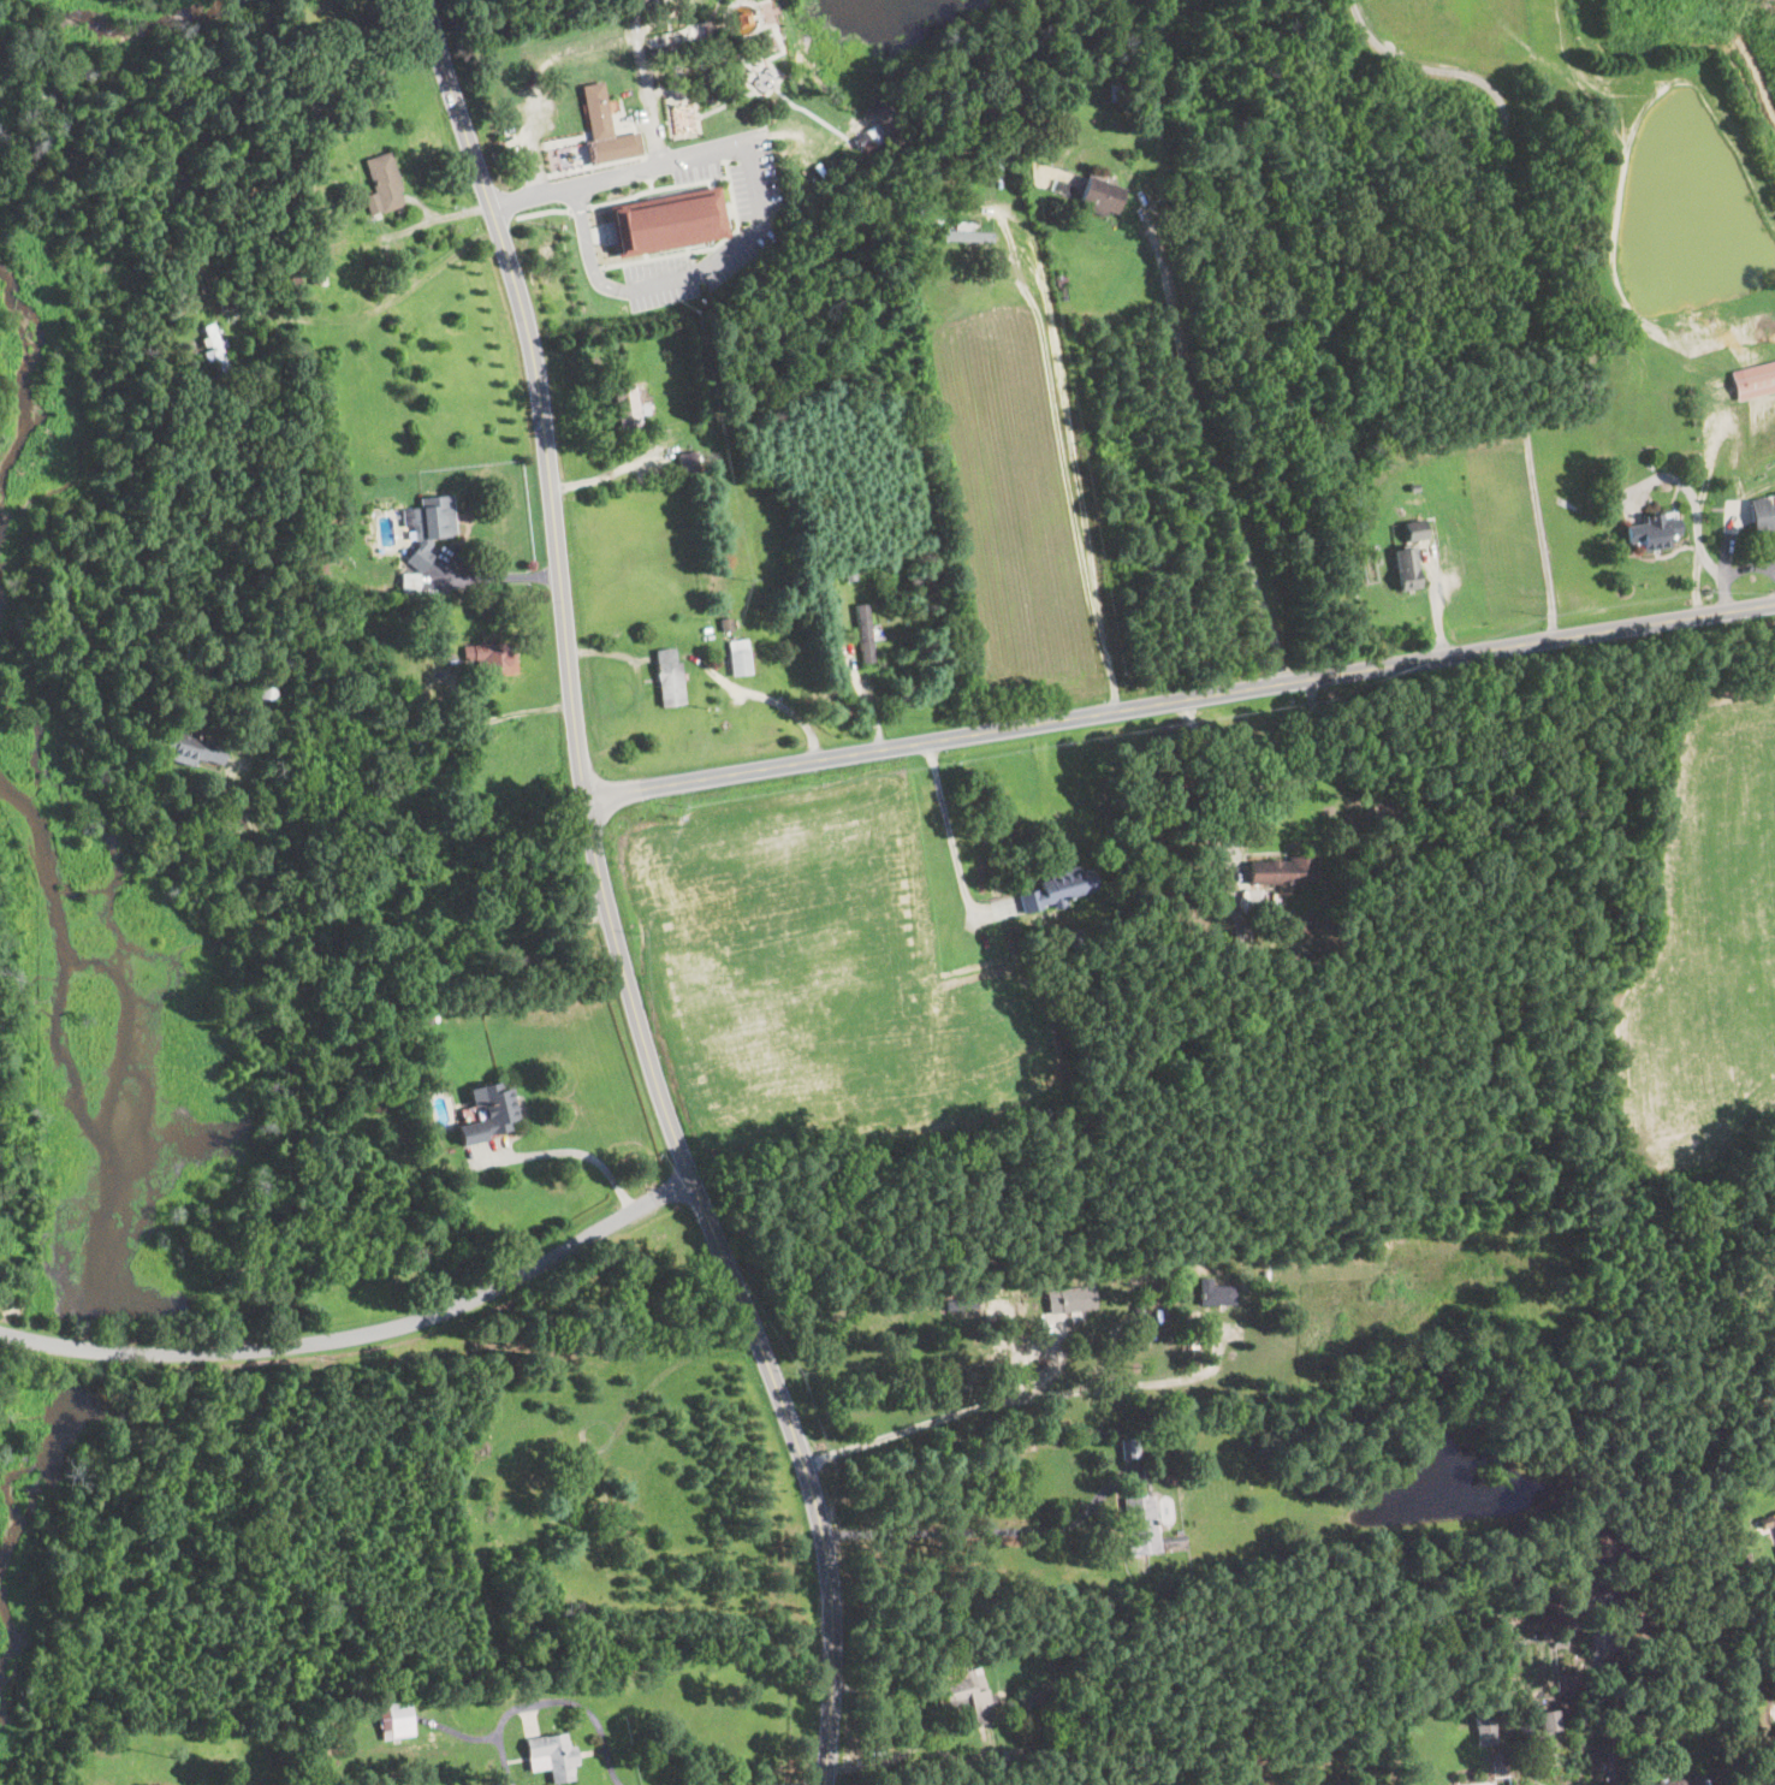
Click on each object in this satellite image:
building: (744, 18)
building: (768, 41)
building: (765, 79)
building: (1118, 91)
building: (881, 117)
building: (683, 119)
building: (606, 130)
building: (862, 141)
building: (996, 162)
road: (753, 172)
building: (385, 182)
road: (651, 183)
building: (1057, 183)
road: (657, 189)
road: (533, 194)
building: (1102, 197)
road: (580, 208)
road: (544, 212)
building: (669, 221)
road: (421, 225)
building: (968, 237)
road: (589, 248)
road: (708, 248)
road: (1518, 272)
building: (316, 277)
building: (1062, 280)
building: (222, 298)
road: (379, 306)
building: (1593, 345)
building: (215, 349)
building: (1753, 380)
building: (643, 386)
building: (778, 386)
building: (719, 396)
building: (628, 407)
road: (1069, 445)
road: (1216, 462)
building: (689, 463)
road: (606, 474)
building: (1415, 487)
building: (1771, 516)
building: (428, 526)
building: (1417, 529)
building: (1652, 533)
building: (1408, 568)
building: (851, 573)
road: (497, 575)
building: (410, 583)
building: (724, 624)
building: (866, 634)
building: (912, 646)
building: (493, 658)
building: (740, 658)
building: (370, 662)
building: (669, 678)
building: (268, 684)
road: (773, 699)
road: (1179, 700)
road: (499, 717)
building: (192, 749)
road: (1277, 787)
road: (950, 826)
building: (1286, 871)
building: (1058, 889)
road: (604, 901)
building: (1235, 935)
building: (1079, 939)
road: (387, 974)
building: (418, 1019)
building: (489, 1114)
road: (575, 1151)
building: (1243, 1276)
building: (1738, 1289)
building: (1217, 1295)
building: (1073, 1299)
building: (958, 1304)
building: (1139, 1311)
road: (362, 1332)
road: (1017, 1398)
building: (1761, 1417)
building: (1130, 1448)
building: (1372, 1484)
building: (1774, 1517)
building: (1765, 1523)
building: (1146, 1529)
road: (984, 1534)
building: (431, 1556)
building: (926, 1576)
building: (1593, 1595)
building: (966, 1692)
building: (1032, 1700)
road: (551, 1702)
building: (1662, 1707)
building: (1581, 1710)
building: (397, 1718)
building: (1549, 1721)
building: (1526, 1724)
building: (1486, 1727)
building: (1525, 1739)
building: (551, 1756)
building: (1323, 1756)
building: (1524, 1757)
building: (1497, 1763)
building: (1263, 1772)
building: (1319, 1774)
building: (1685, 1781)

